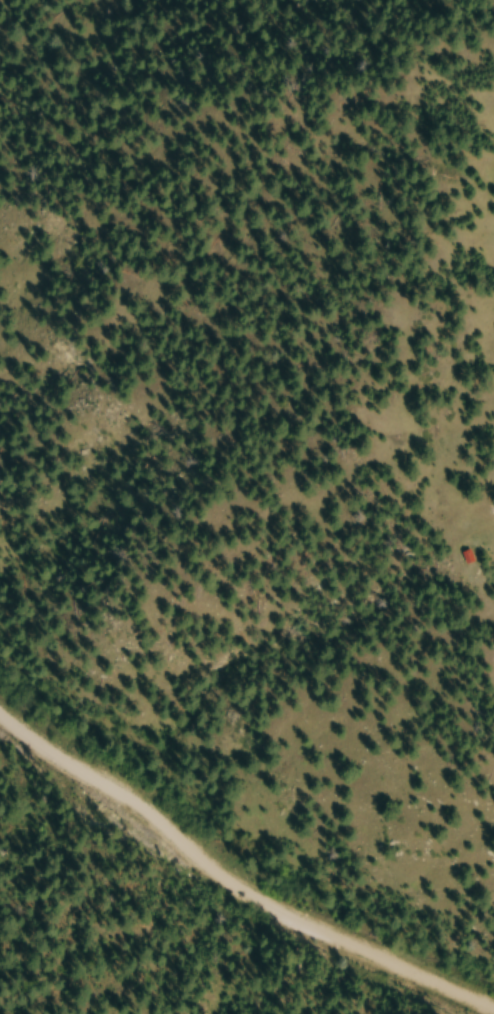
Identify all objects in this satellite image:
building: (470, 560)
road: (228, 889)

